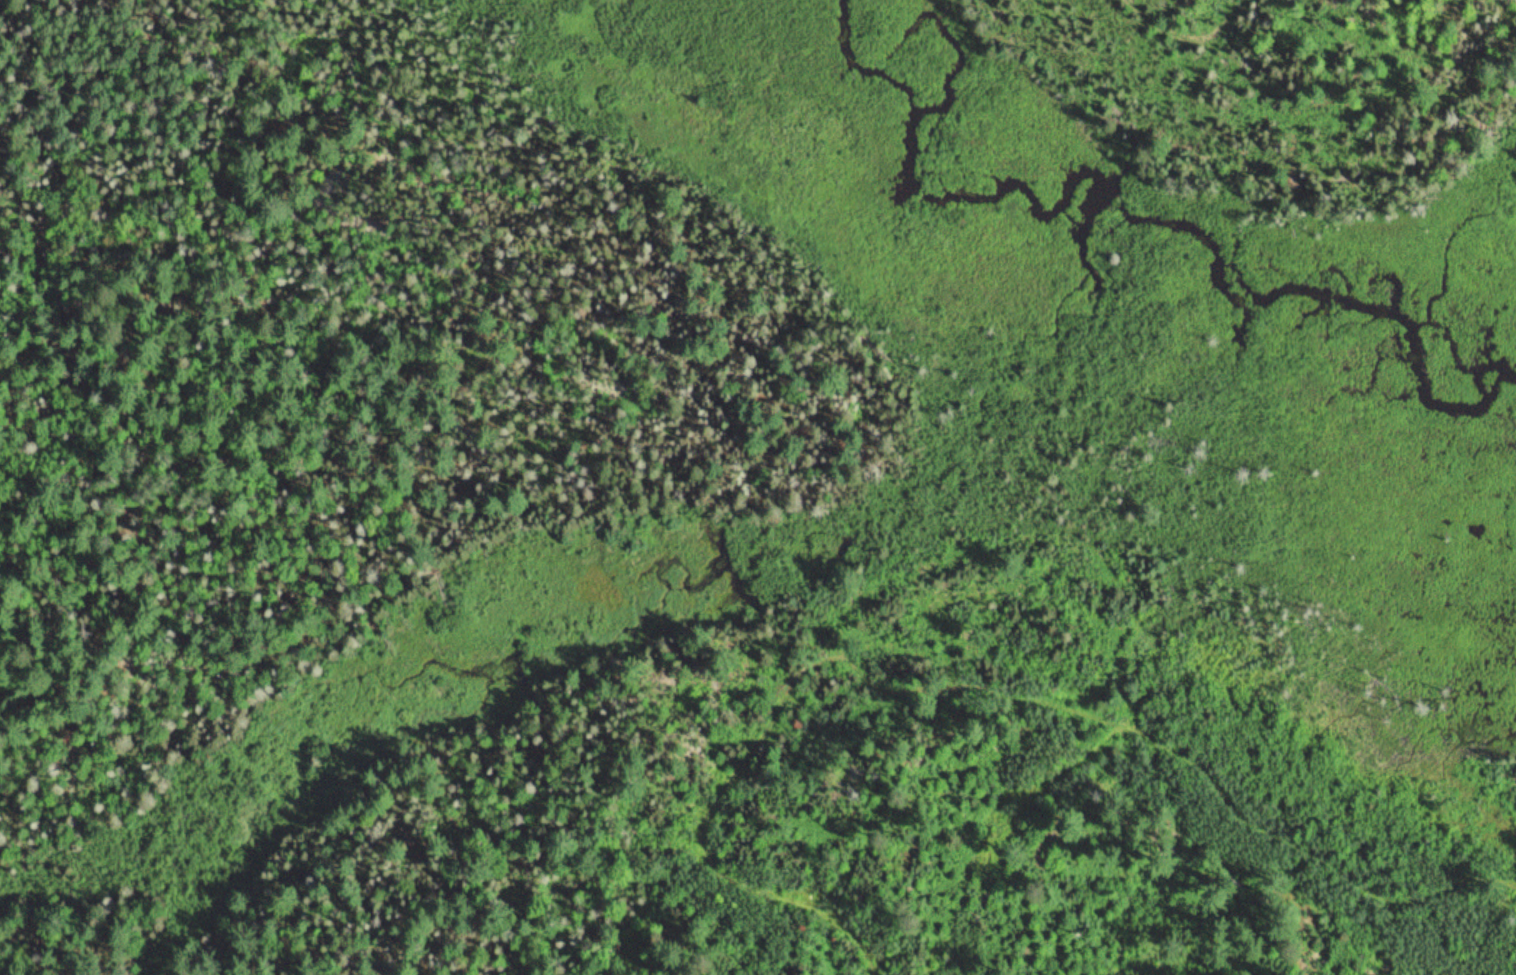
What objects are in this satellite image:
road: (1187, 36)

